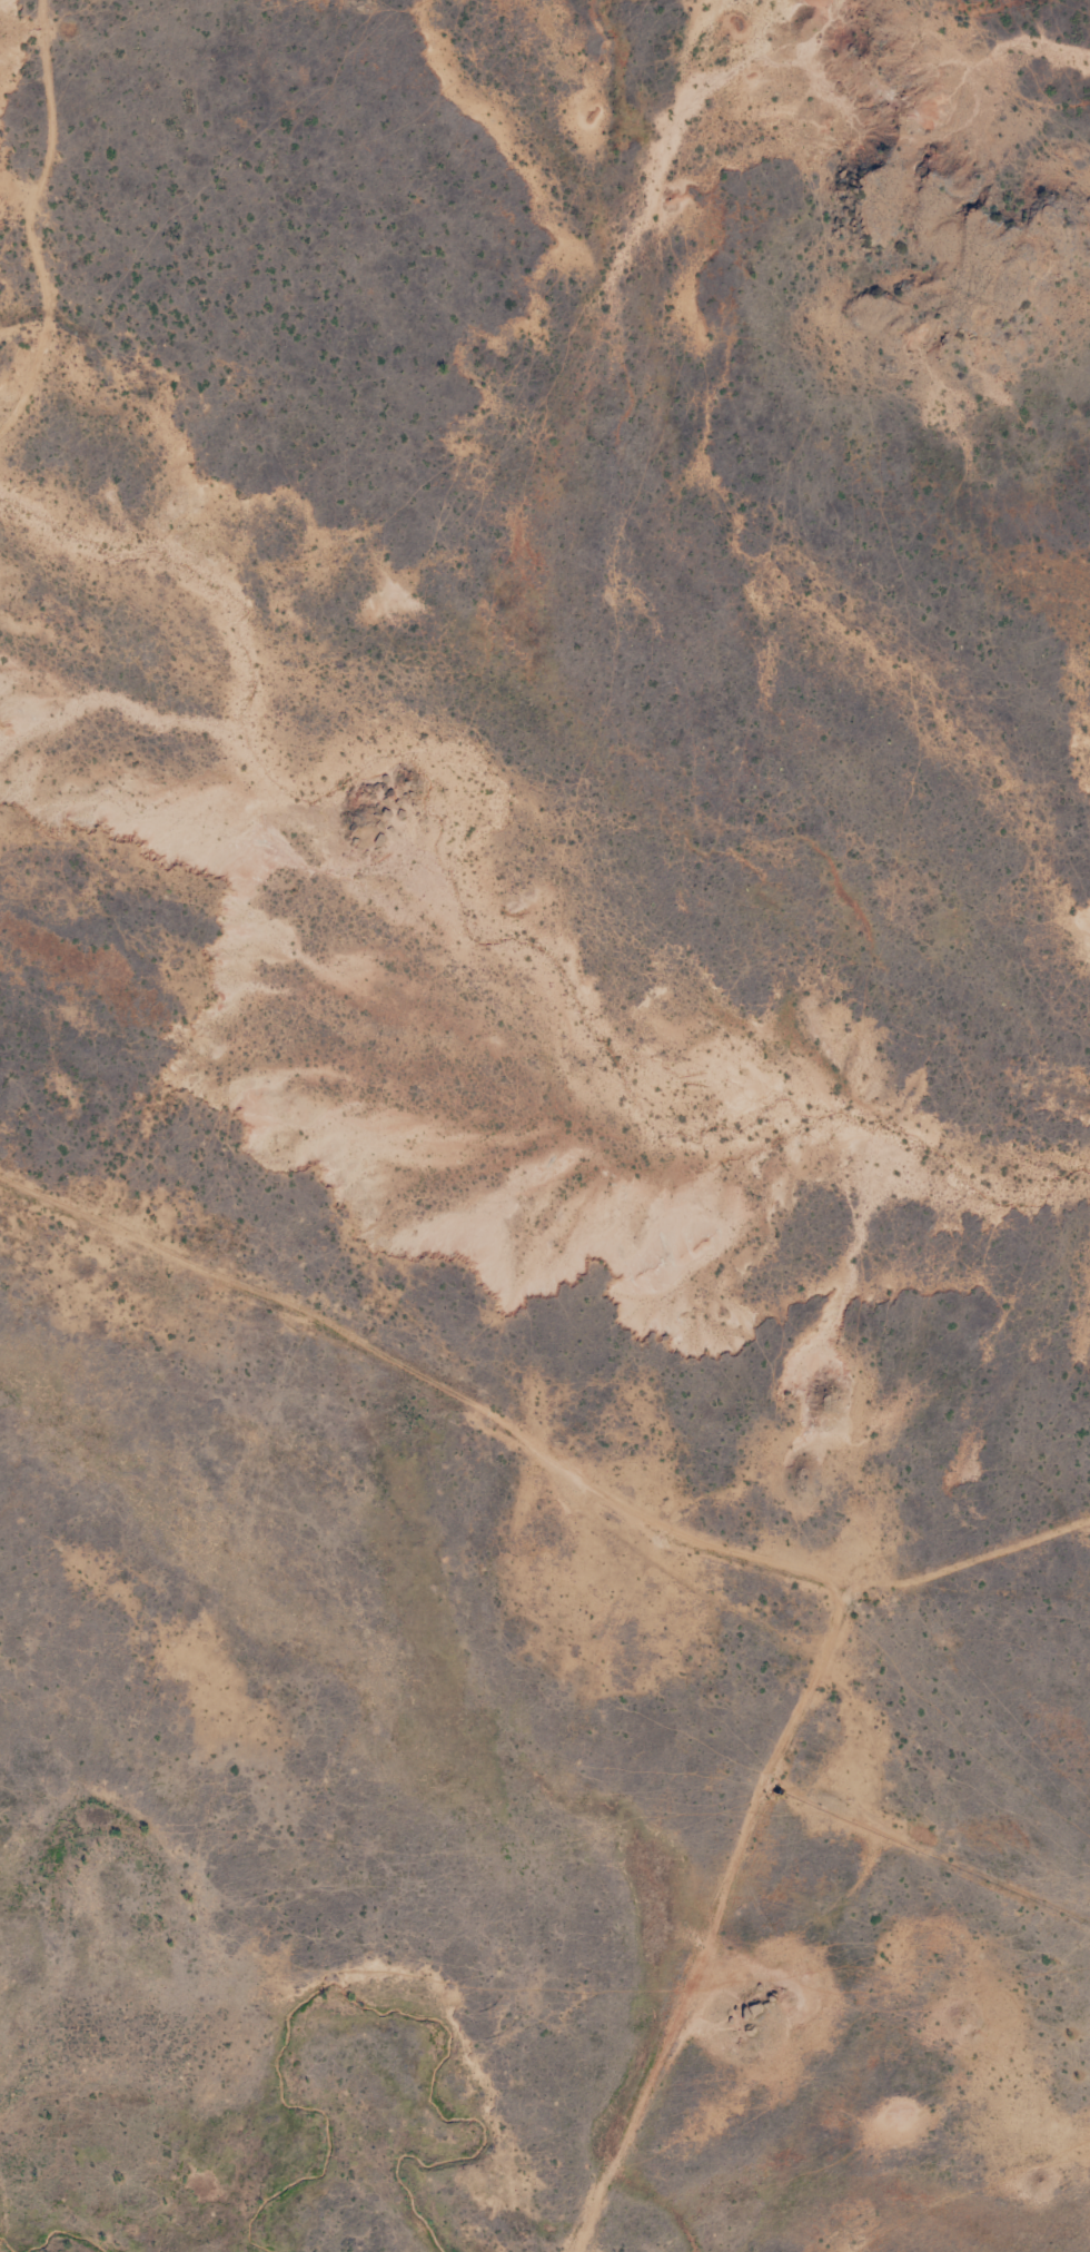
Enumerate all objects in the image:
road: (32, 221)
road: (732, 1555)

